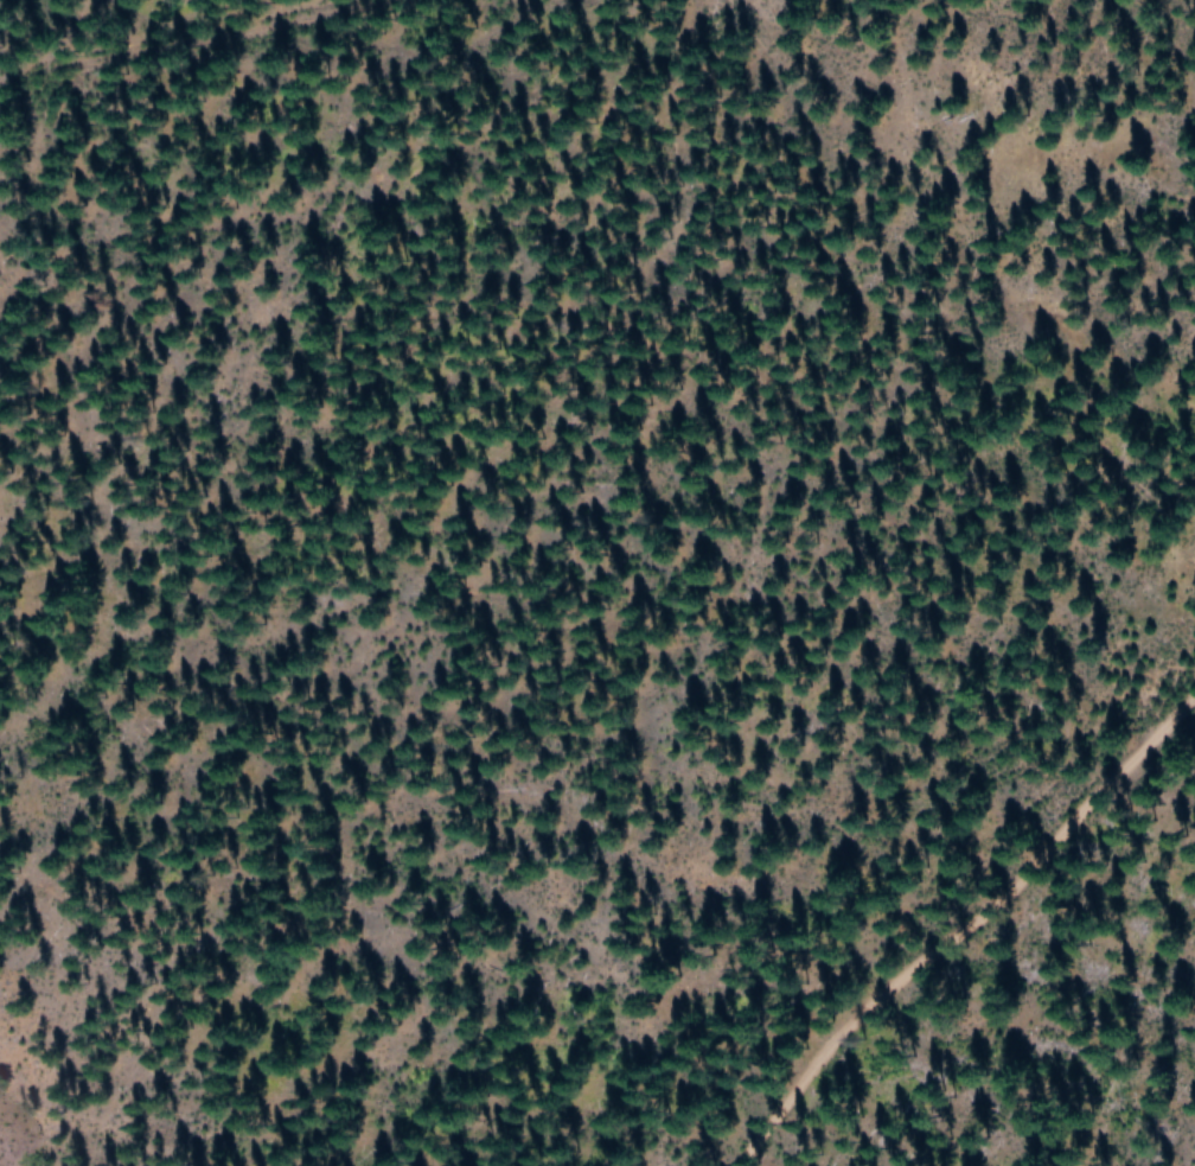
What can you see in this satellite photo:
road: (964, 929)

